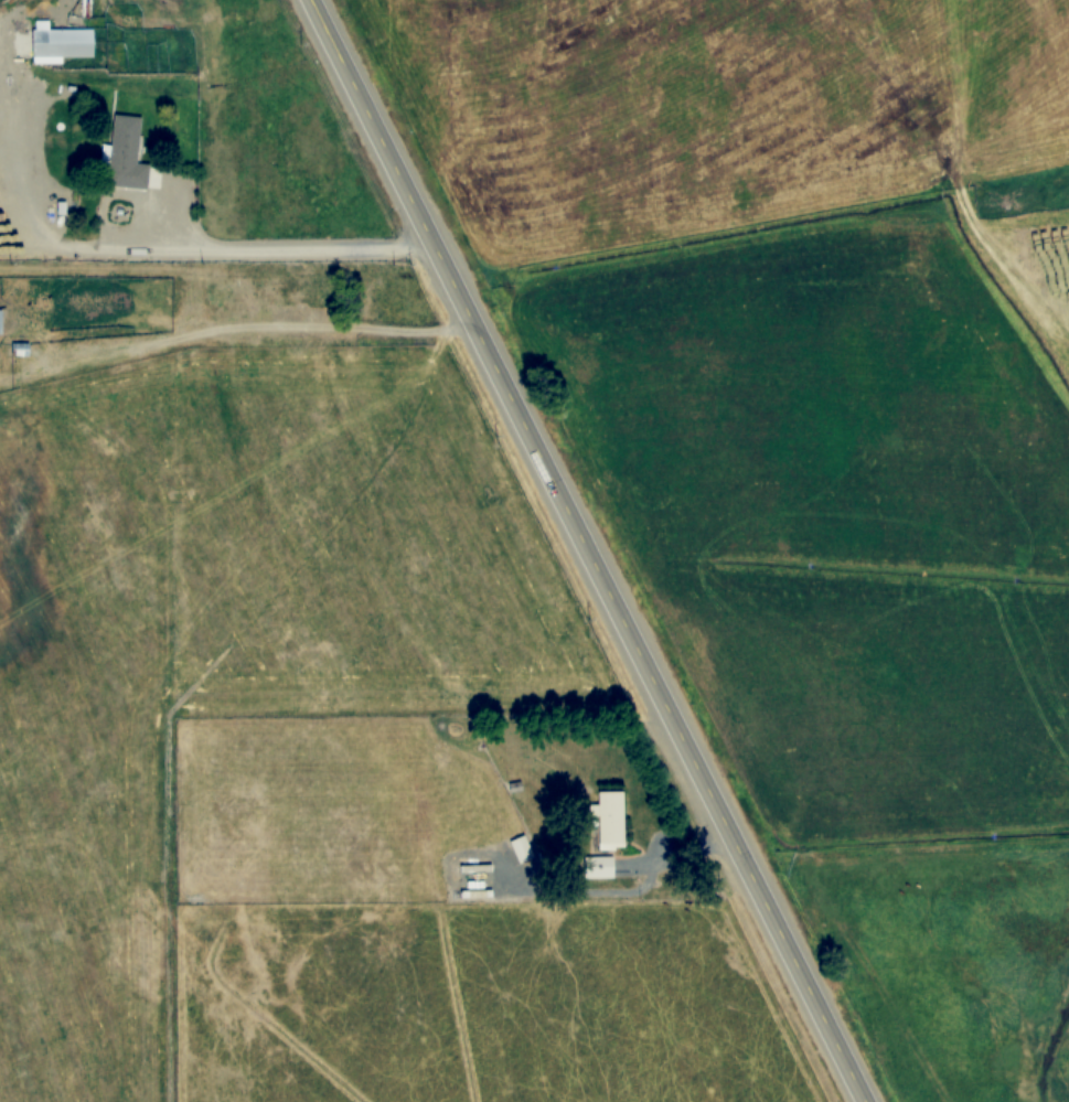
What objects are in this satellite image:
building: (62, 43)
building: (126, 154)
building: (1038, 264)
road: (587, 550)
building: (610, 817)
building: (521, 848)
building: (600, 867)

